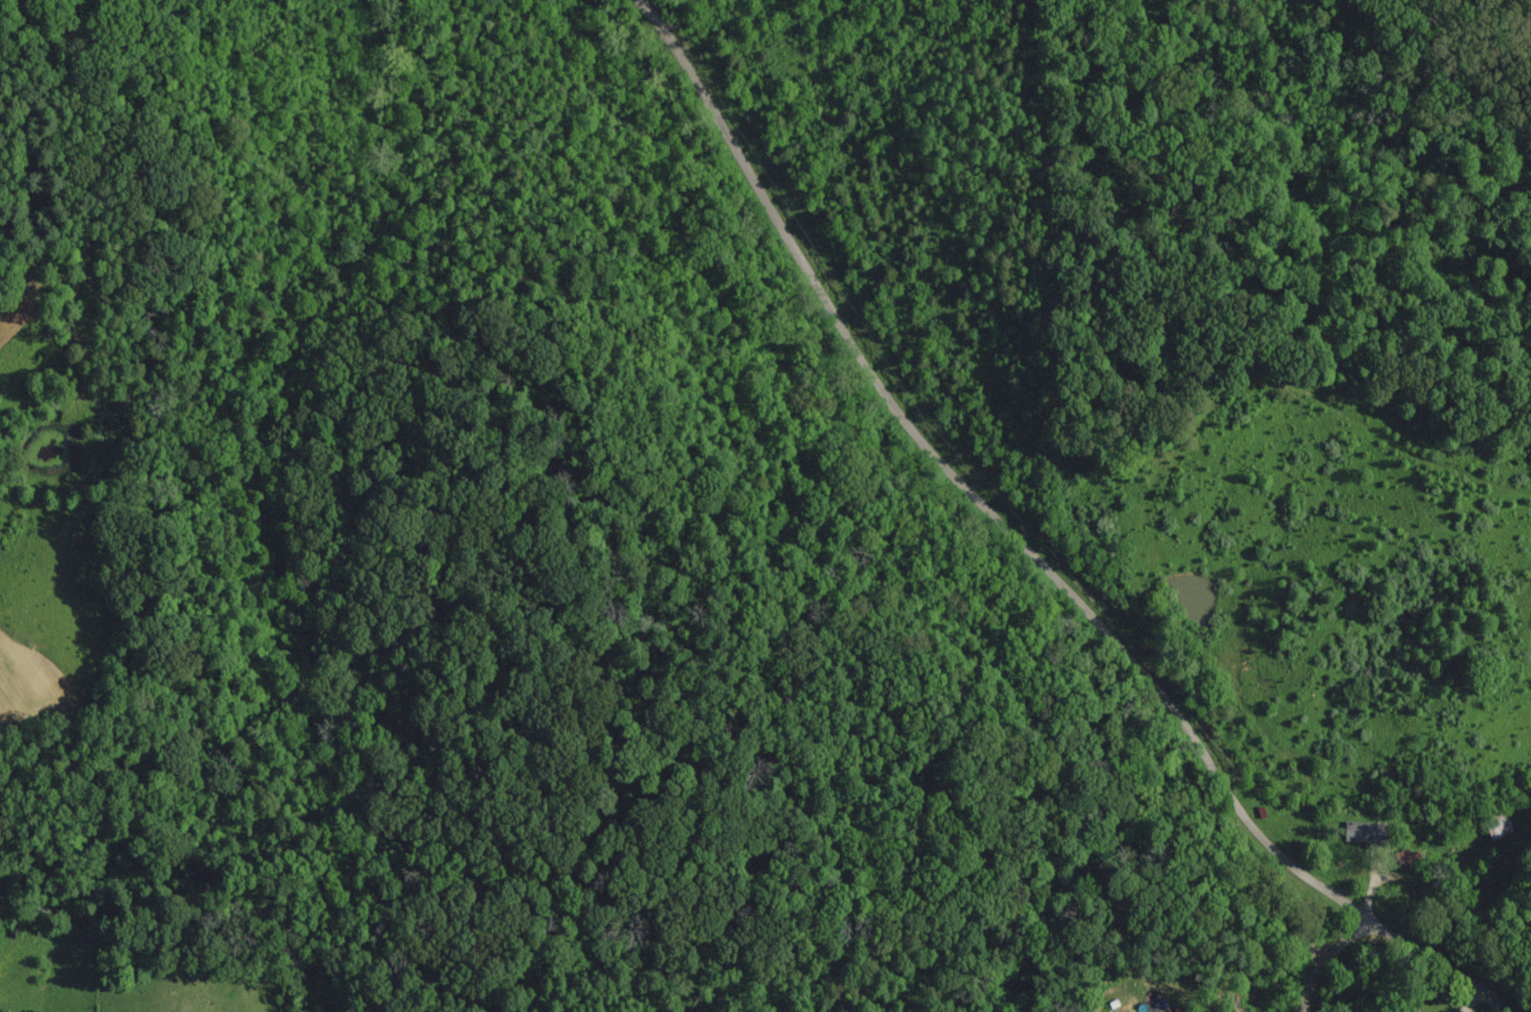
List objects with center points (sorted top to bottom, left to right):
road: (1021, 548)
building: (1358, 831)
building: (1402, 857)

